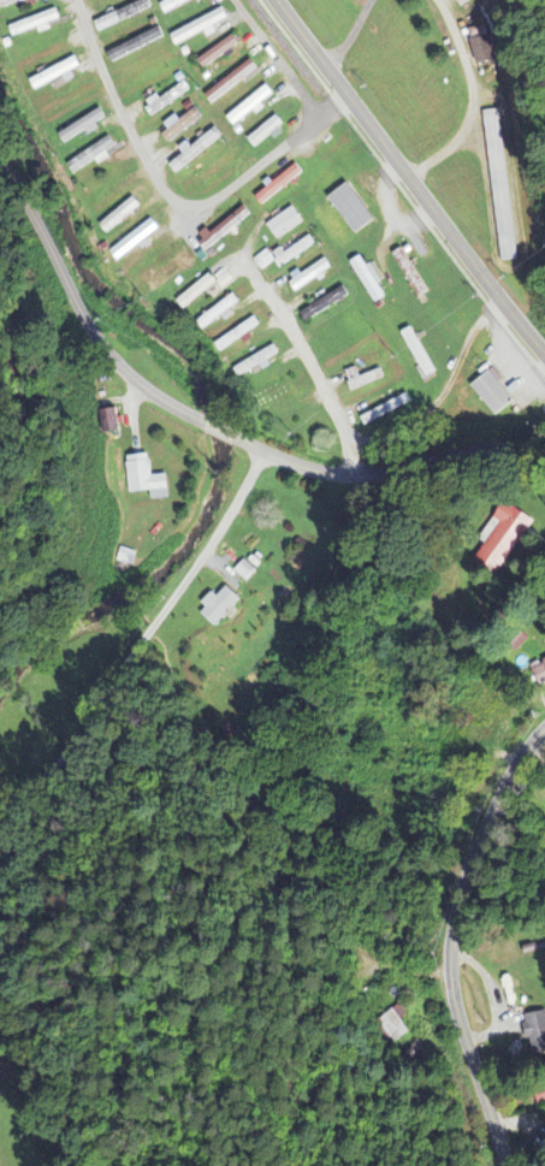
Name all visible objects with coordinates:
building: (10, 2)
building: (174, 5)
building: (124, 16)
building: (36, 24)
building: (202, 28)
building: (137, 45)
building: (220, 52)
road: (279, 59)
building: (170, 97)
building: (251, 107)
building: (182, 126)
building: (84, 128)
building: (267, 132)
building: (195, 152)
building: (94, 155)
road: (408, 178)
building: (280, 185)
road: (170, 195)
building: (354, 209)
building: (120, 215)
building: (286, 224)
building: (225, 229)
building: (137, 241)
building: (294, 251)
building: (266, 260)
building: (411, 273)
building: (312, 274)
building: (371, 279)
building: (199, 291)
building: (325, 304)
road: (79, 306)
building: (220, 313)
building: (420, 353)
building: (256, 362)
building: (362, 379)
building: (494, 393)
road: (434, 404)
building: (111, 421)
road: (218, 426)
road: (387, 469)
building: (147, 479)
building: (220, 606)
road: (144, 637)
building: (540, 671)
road: (12, 841)
road: (451, 940)
building: (395, 1023)
building: (537, 1030)

